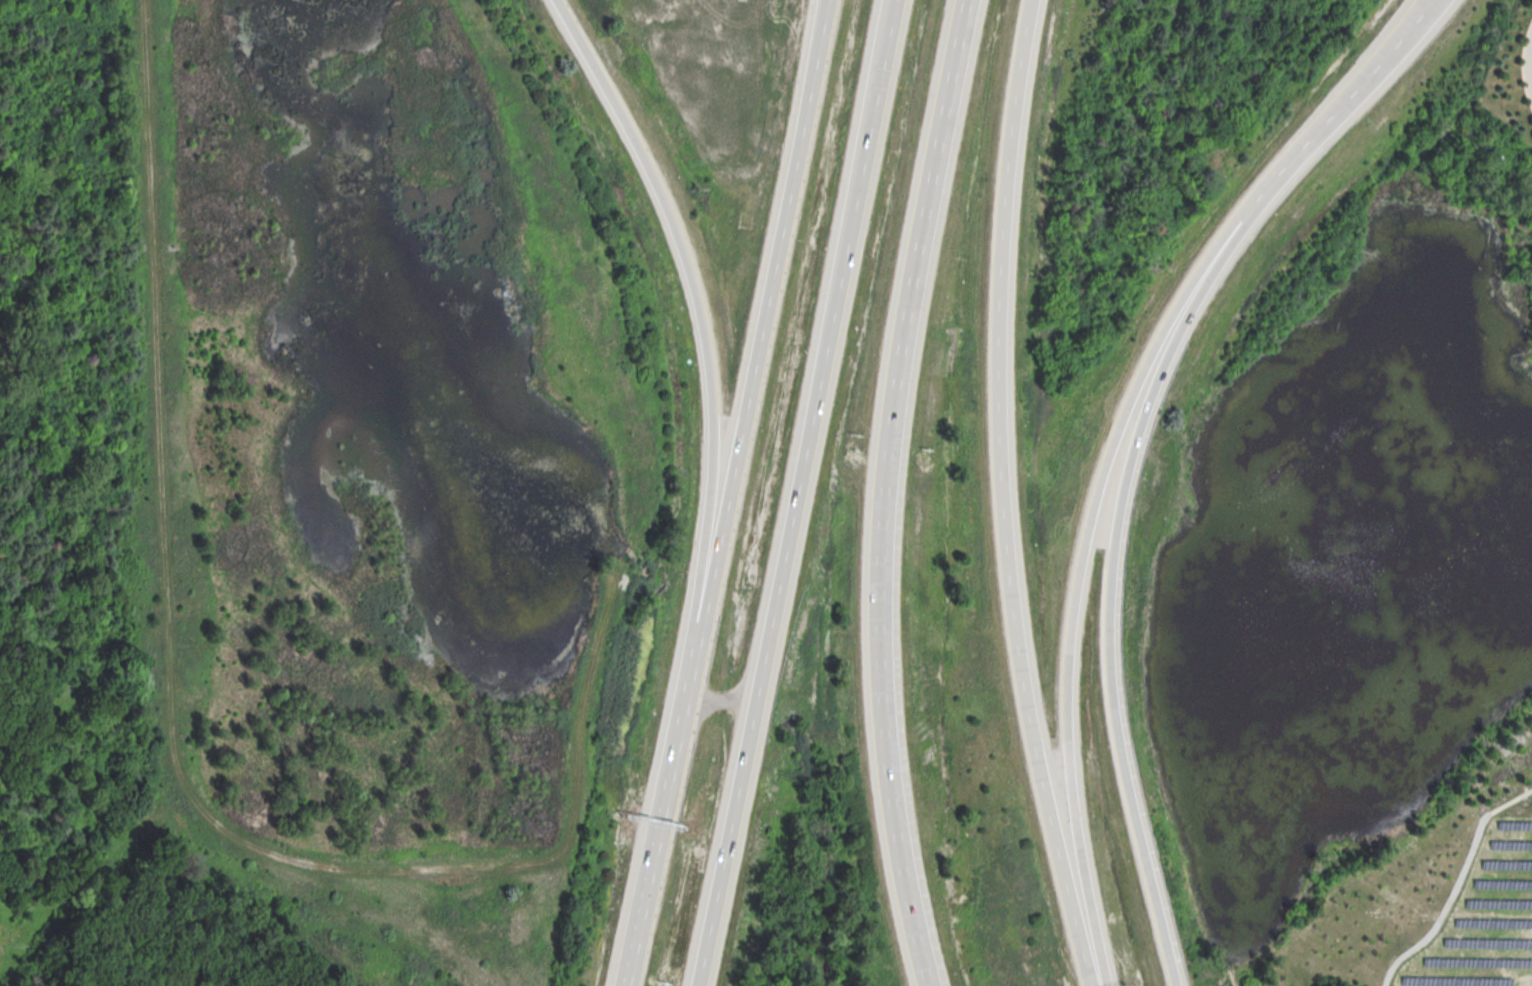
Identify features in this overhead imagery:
road: (1531, 61)
road: (1346, 99)
road: (1002, 202)
road: (705, 336)
road: (758, 353)
road: (883, 491)
road: (796, 493)
road: (1077, 569)
road: (1111, 578)
road: (1026, 699)
road: (653, 845)
road: (1453, 882)

